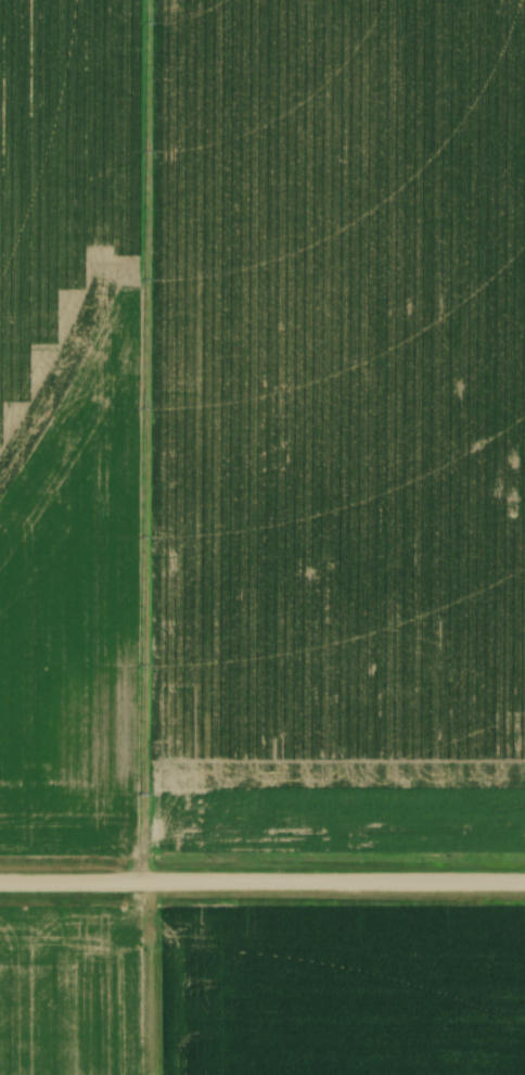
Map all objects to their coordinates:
road: (262, 887)

